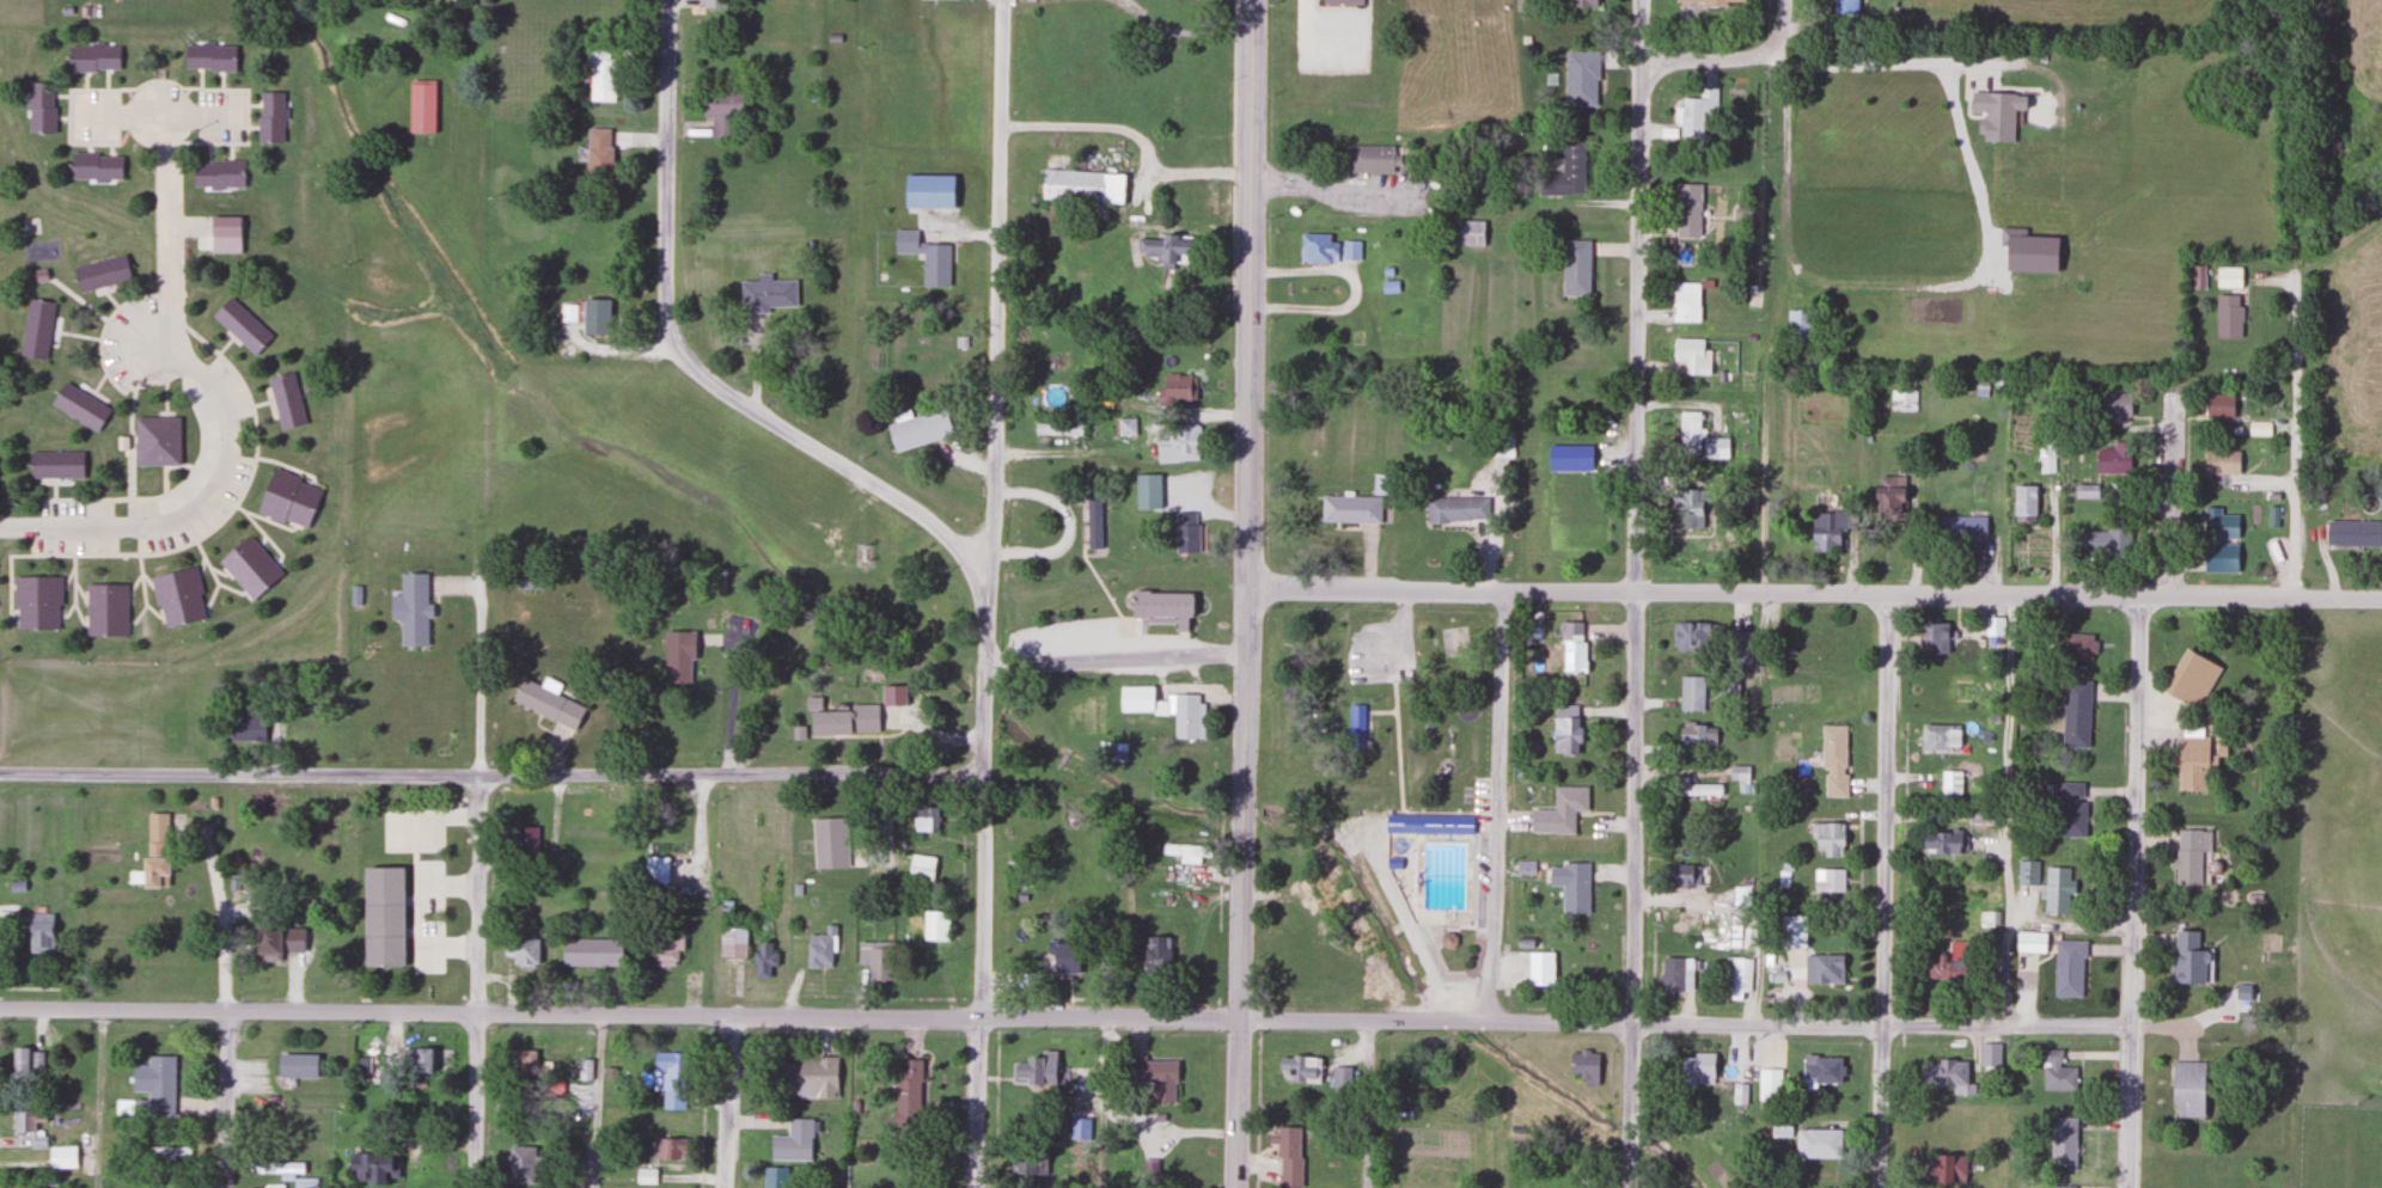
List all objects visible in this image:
building: (1345, 0)
building: (1708, 2)
building: (1581, 4)
building: (713, 5)
building: (1842, 7)
building: (1185, 11)
road: (374, 29)
building: (208, 57)
building: (91, 59)
road: (1734, 60)
building: (1580, 79)
building: (601, 81)
building: (421, 106)
building: (39, 109)
building: (1697, 111)
building: (720, 112)
building: (1995, 114)
road: (159, 116)
building: (269, 117)
road: (1079, 125)
building: (2334, 142)
building: (597, 154)
building: (1367, 159)
building: (94, 166)
building: (1565, 172)
building: (216, 174)
building: (1081, 188)
building: (927, 192)
building: (1687, 210)
building: (1466, 234)
building: (1317, 249)
building: (1163, 250)
building: (1349, 251)
building: (924, 258)
building: (1575, 268)
building: (99, 272)
building: (2227, 276)
building: (766, 294)
building: (1685, 301)
building: (593, 316)
building: (2228, 316)
building: (240, 325)
building: (1798, 325)
building: (36, 329)
building: (1691, 355)
road: (691, 361)
building: (1178, 386)
road: (996, 388)
building: (285, 399)
building: (2114, 405)
building: (2218, 405)
building: (78, 406)
road: (222, 406)
road: (2298, 410)
building: (1125, 427)
building: (2259, 428)
building: (916, 429)
building: (1057, 429)
building: (1688, 431)
building: (154, 440)
building: (1179, 445)
building: (1501, 447)
building: (1715, 448)
building: (2050, 452)
building: (1569, 458)
building: (2107, 460)
building: (2221, 461)
building: (53, 465)
building: (2085, 490)
building: (1146, 491)
building: (1887, 496)
road: (2169, 497)
building: (286, 498)
building: (2023, 502)
building: (1686, 508)
building: (1349, 509)
building: (1455, 509)
building: (1093, 519)
building: (1960, 528)
building: (1185, 532)
building: (2351, 532)
building: (1819, 539)
building: (2103, 539)
building: (2218, 539)
building: (248, 565)
road: (1437, 590)
road: (1887, 592)
road: (1633, 593)
road: (1241, 594)
road: (2152, 595)
building: (176, 596)
road: (2274, 596)
building: (36, 602)
building: (1163, 604)
building: (409, 608)
building: (104, 610)
building: (1993, 626)
building: (1688, 635)
building: (1935, 637)
park: (1460, 639)
building: (1818, 639)
building: (678, 642)
building: (2079, 645)
building: (1571, 647)
building: (1736, 648)
road: (1114, 659)
building: (2188, 678)
building: (1728, 686)
road: (480, 693)
building: (1691, 693)
road: (728, 702)
building: (546, 703)
building: (1161, 708)
building: (2075, 712)
building: (843, 722)
building: (1355, 725)
building: (246, 728)
building: (1564, 734)
building: (1696, 734)
building: (1940, 736)
park: (1388, 753)
building: (2191, 757)
building: (1832, 759)
road: (491, 773)
building: (1739, 773)
building: (1950, 782)
building: (1692, 789)
building: (2068, 806)
road: (1496, 807)
building: (1558, 812)
building: (924, 817)
building: (1425, 823)
building: (1825, 838)
building: (524, 841)
building: (1937, 841)
building: (154, 852)
building: (1183, 852)
building: (2188, 855)
building: (921, 868)
building: (656, 869)
building: (1282, 869)
building: (2026, 871)
building: (1682, 875)
building: (1830, 881)
building: (1574, 887)
building: (2057, 889)
road: (1886, 890)
road: (2133, 892)
road: (982, 898)
road: (1354, 910)
building: (380, 916)
building: (1688, 918)
building: (1282, 921)
building: (935, 925)
building: (1791, 931)
building: (39, 932)
building: (2029, 941)
building: (264, 942)
building: (733, 942)
building: (665, 945)
building: (820, 948)
building: (524, 951)
building: (591, 951)
building: (1155, 953)
building: (1062, 955)
building: (2185, 956)
building: (763, 957)
building: (874, 959)
building: (1943, 967)
building: (2066, 967)
building: (1815, 968)
building: (1675, 973)
building: (1735, 978)
road: (476, 1011)
road: (814, 1016)
road: (1757, 1023)
road: (226, 1024)
road: (2007, 1025)
building: (1989, 1055)
building: (417, 1060)
building: (24, 1061)
building: (295, 1065)
building: (1584, 1066)
building: (523, 1068)
building: (584, 1068)
building: (1300, 1068)
building: (1694, 1068)
building: (1033, 1070)
building: (1819, 1070)
building: (2056, 1072)
building: (1946, 1073)
building: (670, 1077)
building: (808, 1077)
building: (1153, 1077)
building: (1769, 1083)
building: (155, 1084)
building: (2186, 1088)
building: (905, 1091)
road: (594, 1101)
road: (728, 1102)
building: (1086, 1102)
road: (973, 1103)
road: (1367, 1104)
building: (30, 1125)
building: (1781, 1127)
building: (793, 1140)
building: (2062, 1140)
building: (1818, 1143)
building: (667, 1149)
building: (164, 1155)
building: (1287, 1155)
building: (63, 1157)
building: (1027, 1162)
building: (521, 1164)
building: (1163, 1165)
building: (371, 1166)
building: (1942, 1168)
building: (276, 1169)
building: (646, 1175)
building: (775, 1176)
building: (1566, 1181)
building: (2059, 1186)

